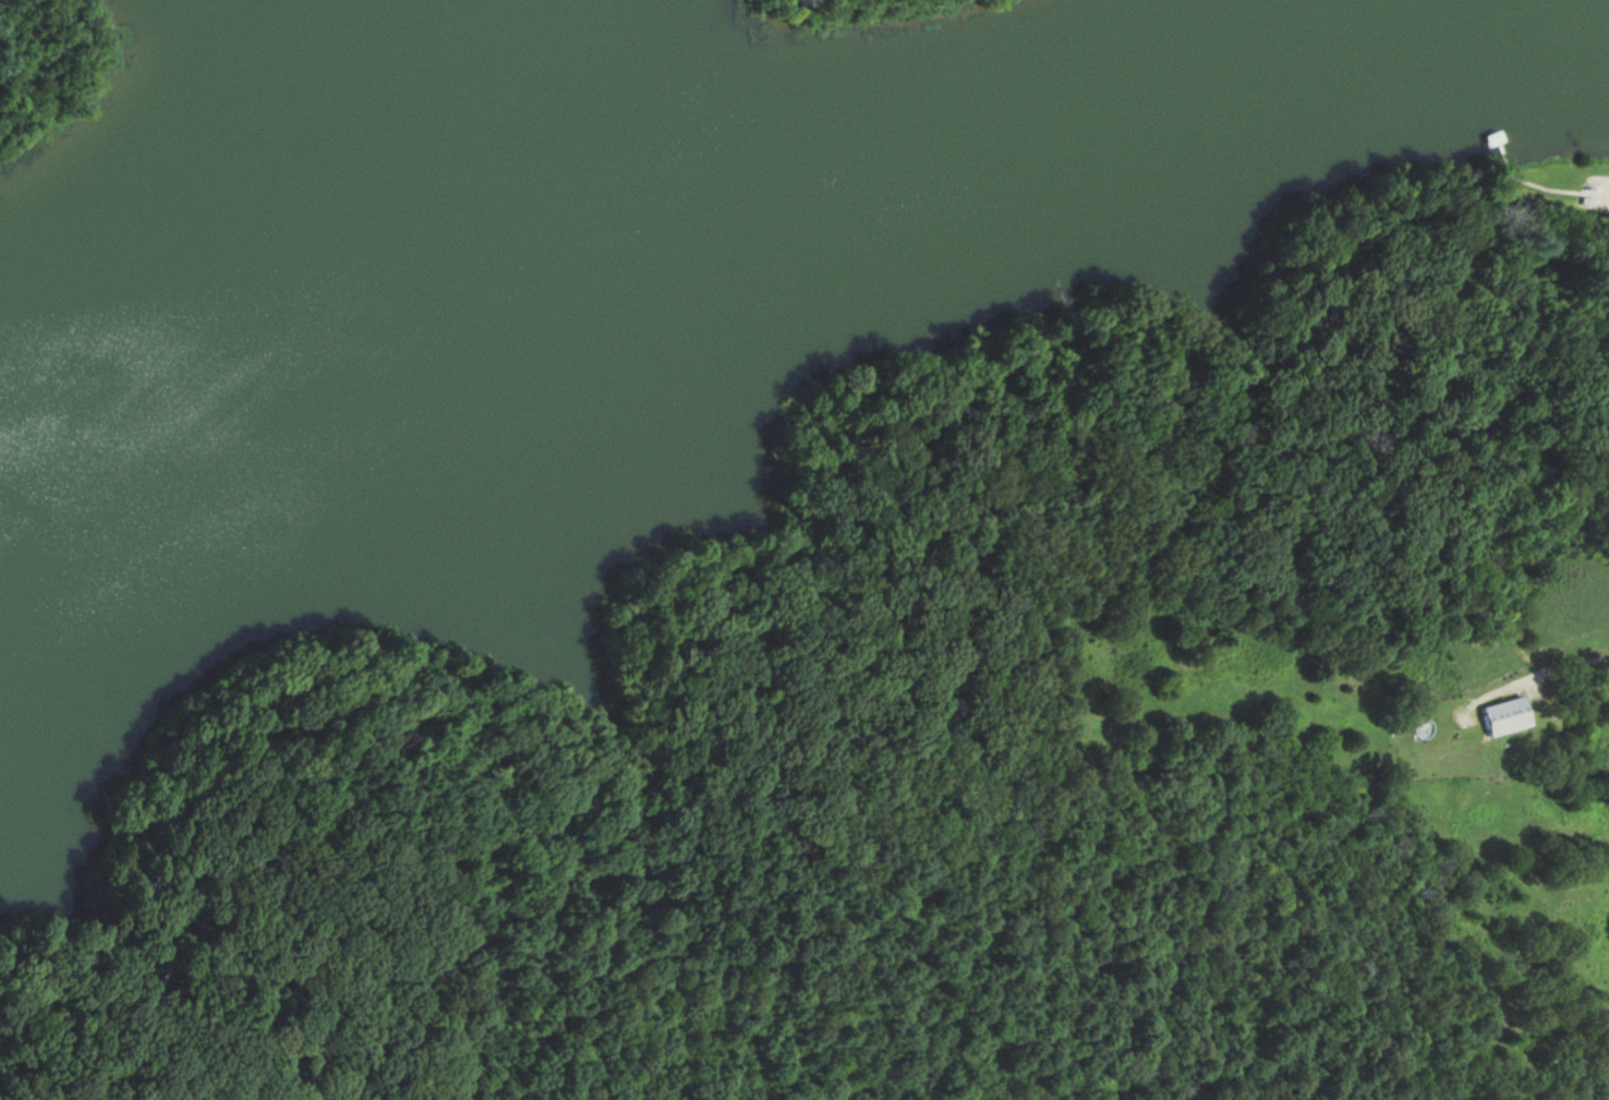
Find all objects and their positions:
road: (1604, 197)
building: (1508, 715)

